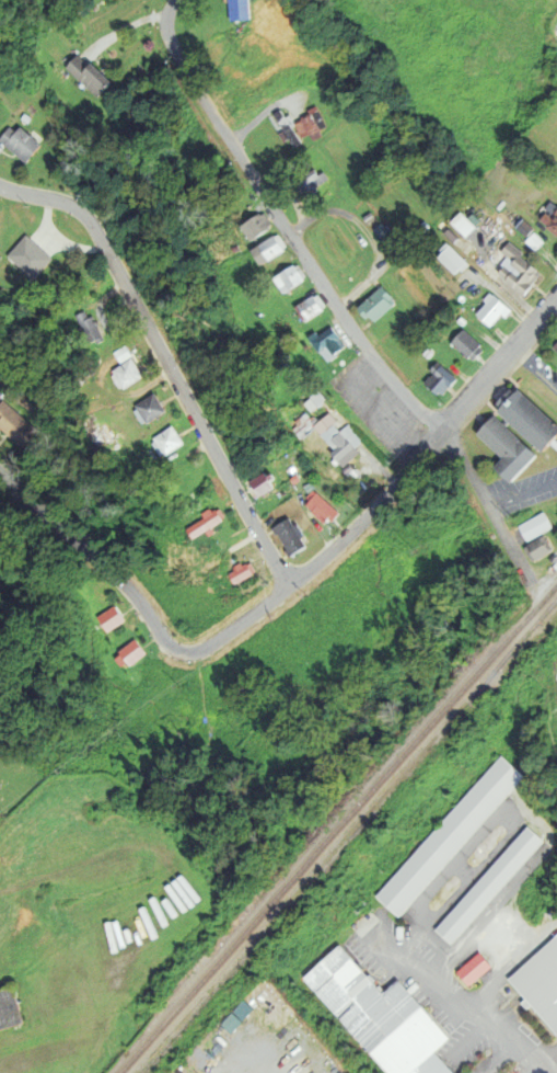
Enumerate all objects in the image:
road: (170, 4)
building: (241, 9)
building: (248, 56)
building: (89, 73)
building: (301, 125)
building: (21, 142)
building: (312, 181)
building: (370, 218)
building: (547, 220)
building: (457, 225)
building: (257, 226)
building: (391, 240)
building: (235, 248)
building: (269, 249)
building: (35, 254)
building: (445, 260)
building: (512, 269)
building: (291, 278)
road: (335, 304)
building: (378, 304)
building: (311, 307)
building: (486, 312)
building: (81, 328)
building: (91, 328)
building: (328, 342)
building: (461, 345)
building: (556, 347)
road: (161, 364)
road: (535, 370)
building: (128, 373)
building: (116, 375)
building: (433, 381)
building: (317, 398)
building: (25, 402)
building: (150, 409)
building: (139, 410)
building: (531, 418)
building: (15, 425)
building: (104, 434)
building: (332, 436)
building: (167, 441)
building: (156, 443)
building: (509, 447)
building: (349, 469)
building: (255, 484)
road: (391, 489)
road: (523, 495)
building: (315, 509)
building: (212, 518)
building: (202, 520)
building: (537, 526)
building: (282, 538)
building: (539, 548)
building: (554, 558)
road: (103, 567)
building: (243, 572)
building: (232, 574)
building: (112, 619)
building: (132, 652)
building: (550, 735)
park: (16, 776)
railway: (338, 829)
building: (450, 835)
railway: (356, 838)
building: (490, 884)
building: (104, 909)
building: (476, 968)
building: (537, 983)
building: (10, 1006)
building: (383, 1015)
road: (514, 1034)
road: (549, 1058)
road: (537, 1069)

